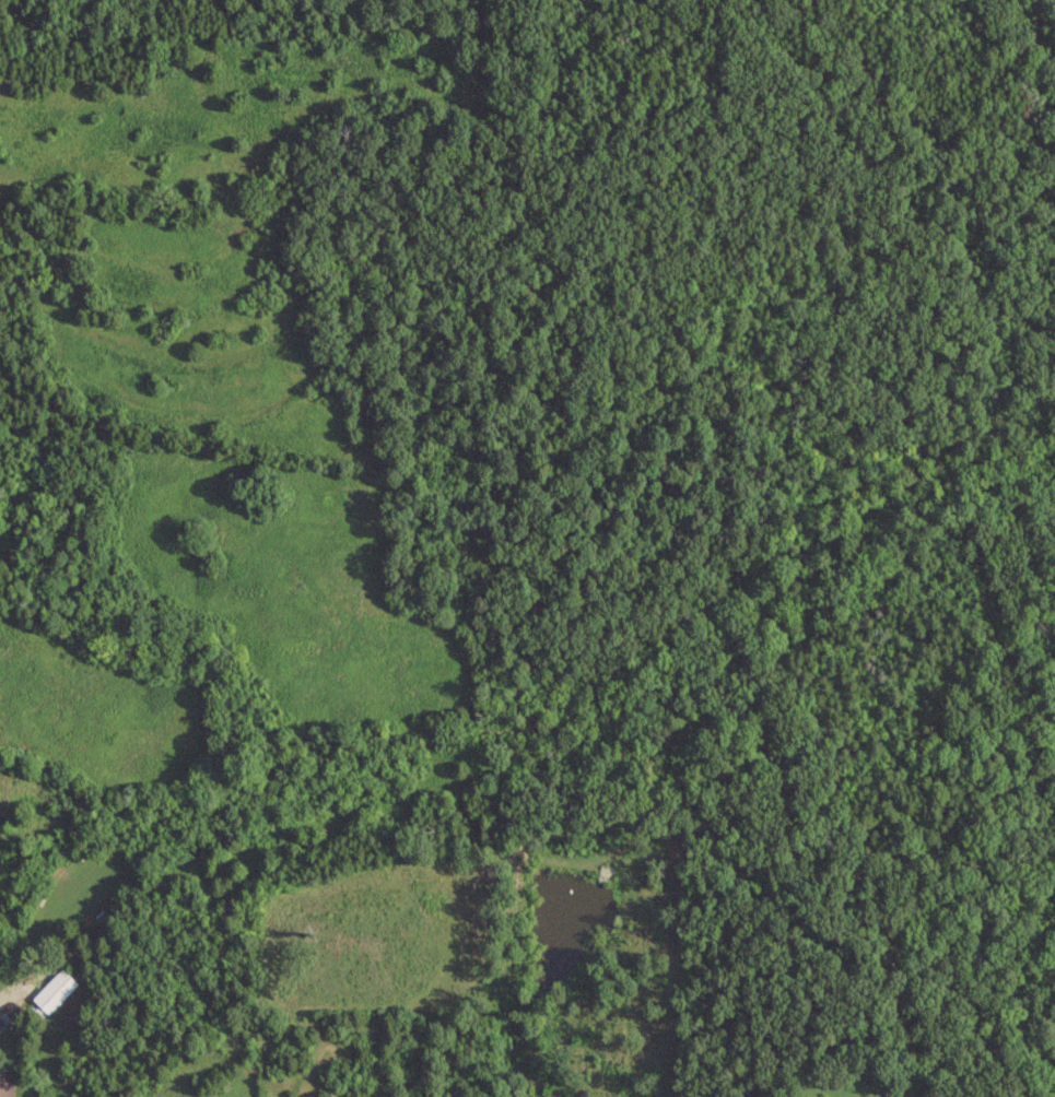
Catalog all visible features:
building: (605, 872)
building: (52, 989)
road: (8, 996)
building: (3, 1082)

